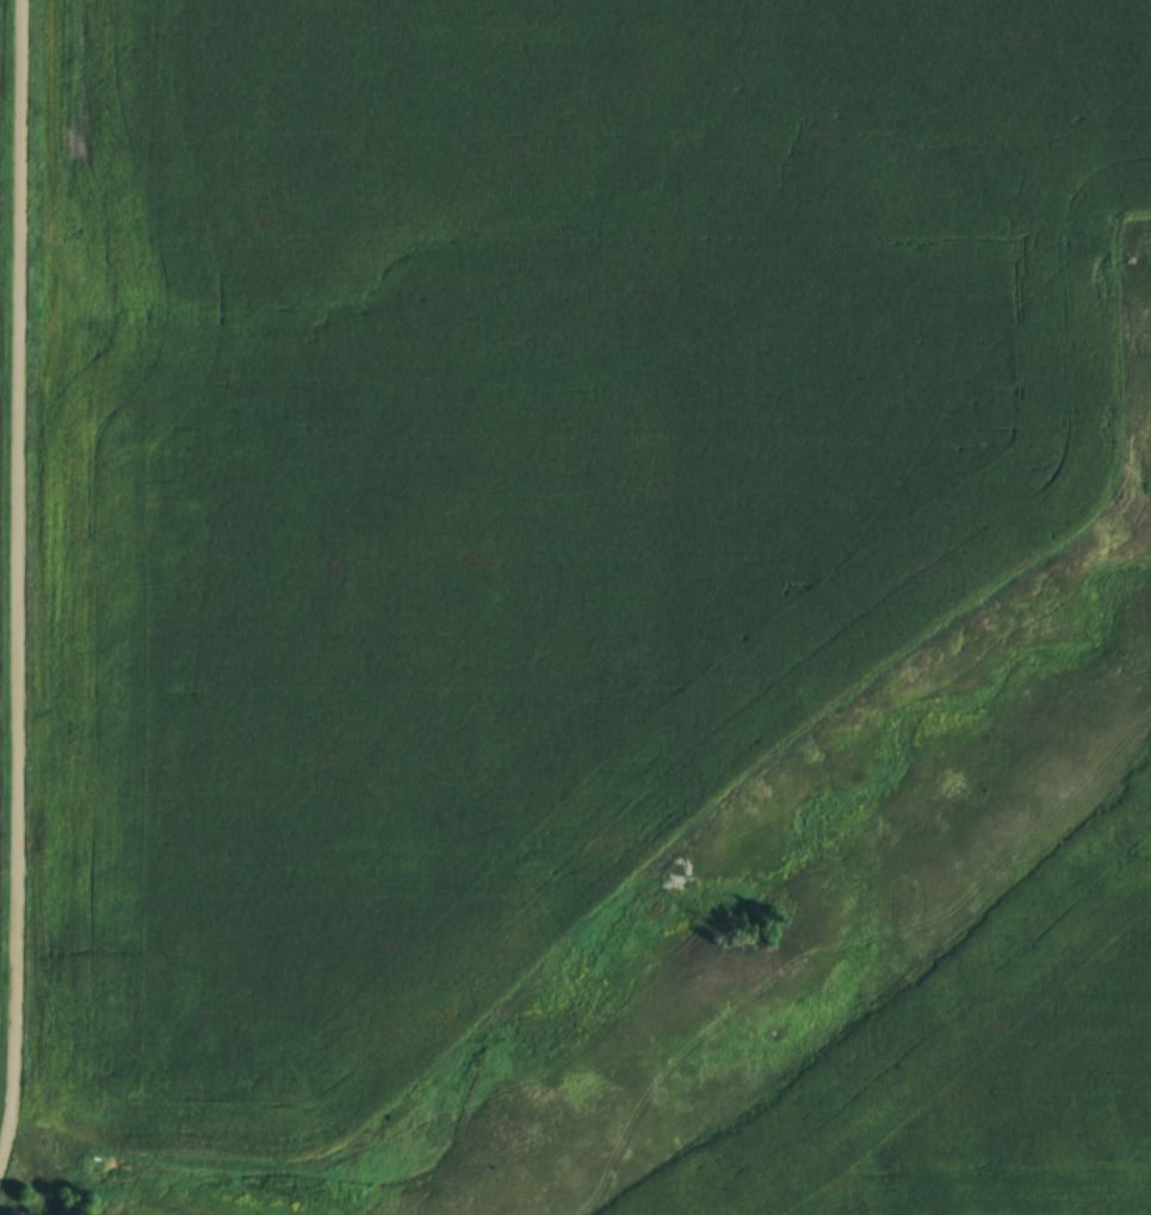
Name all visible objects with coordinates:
road: (19, 588)

